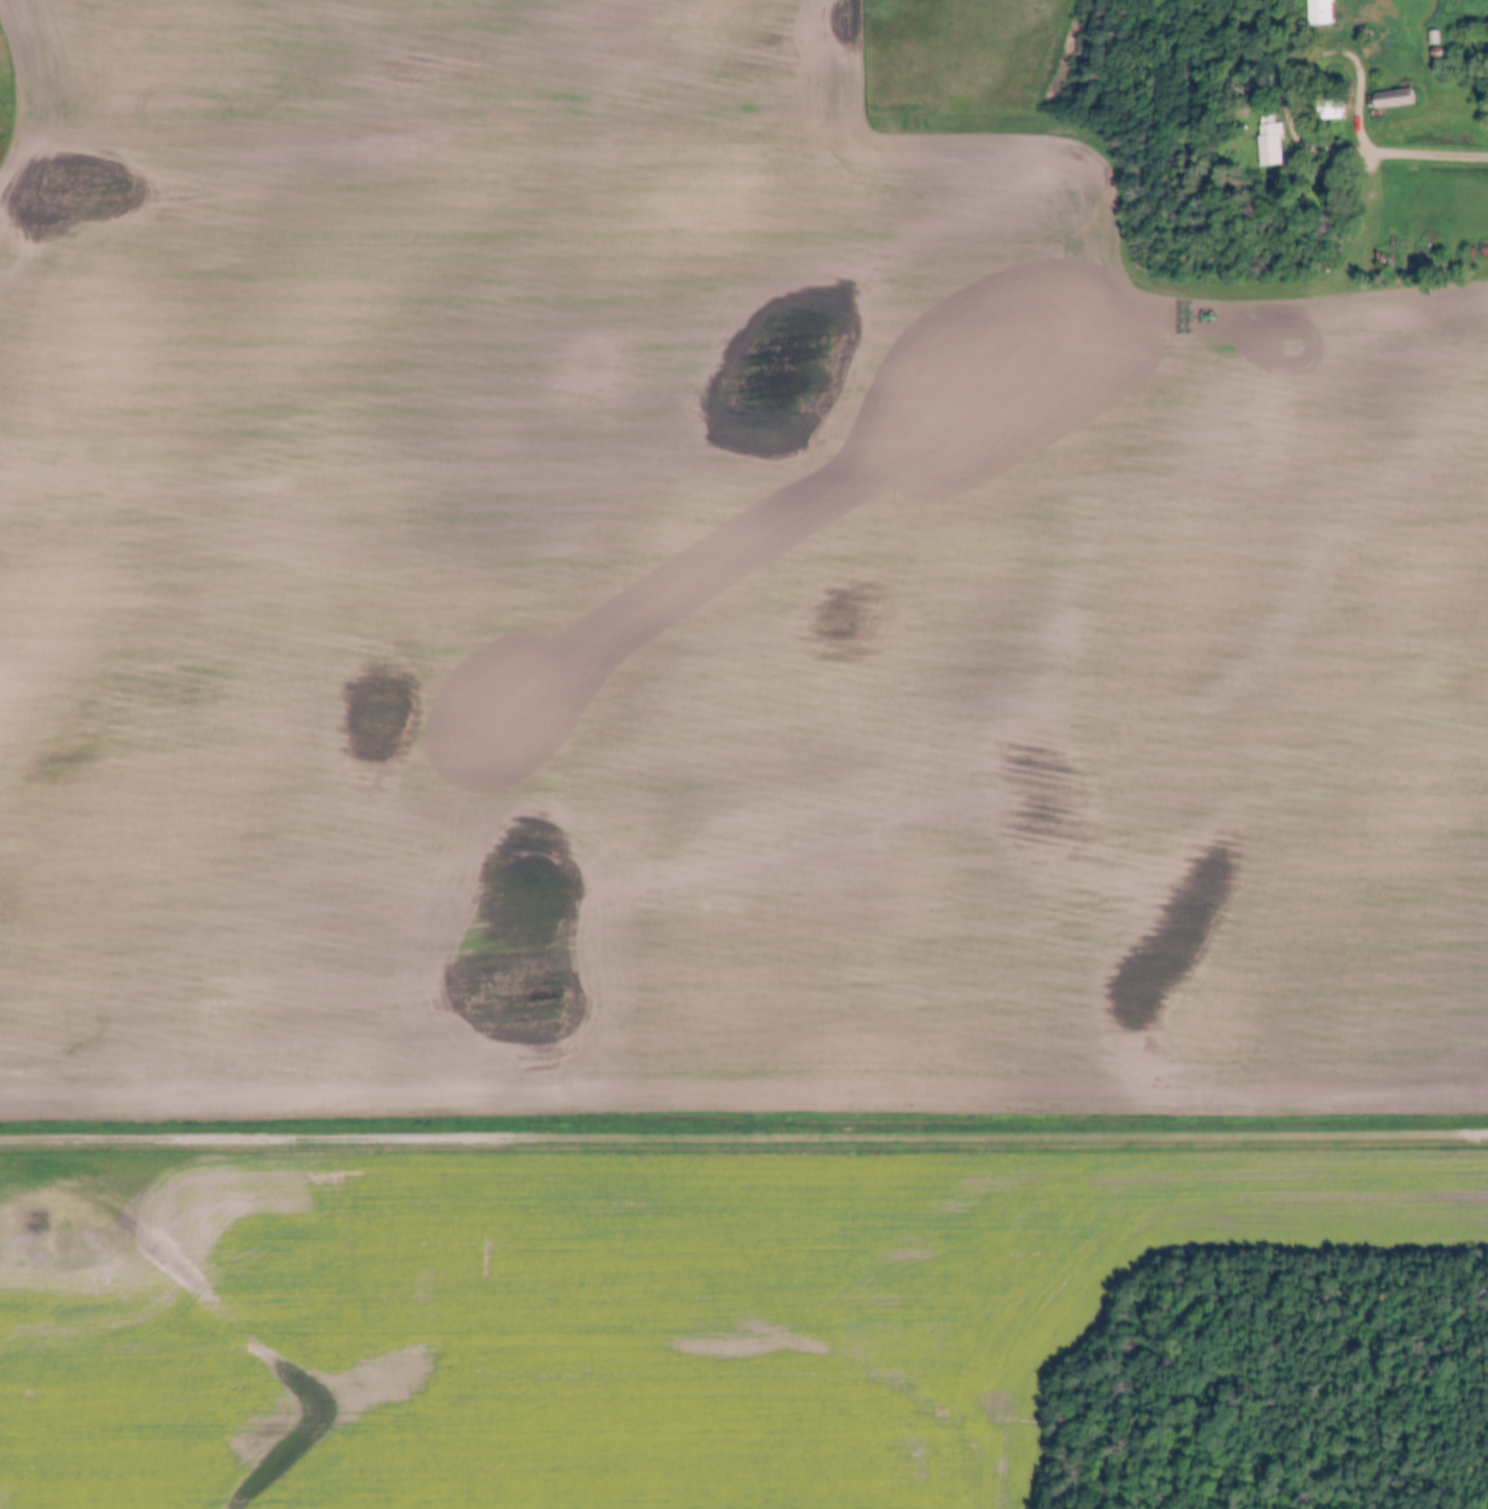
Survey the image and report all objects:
building: (1325, 8)
road: (1304, 60)
building: (1400, 92)
building: (1335, 105)
building: (1274, 139)
road: (1431, 150)
road: (744, 1133)

